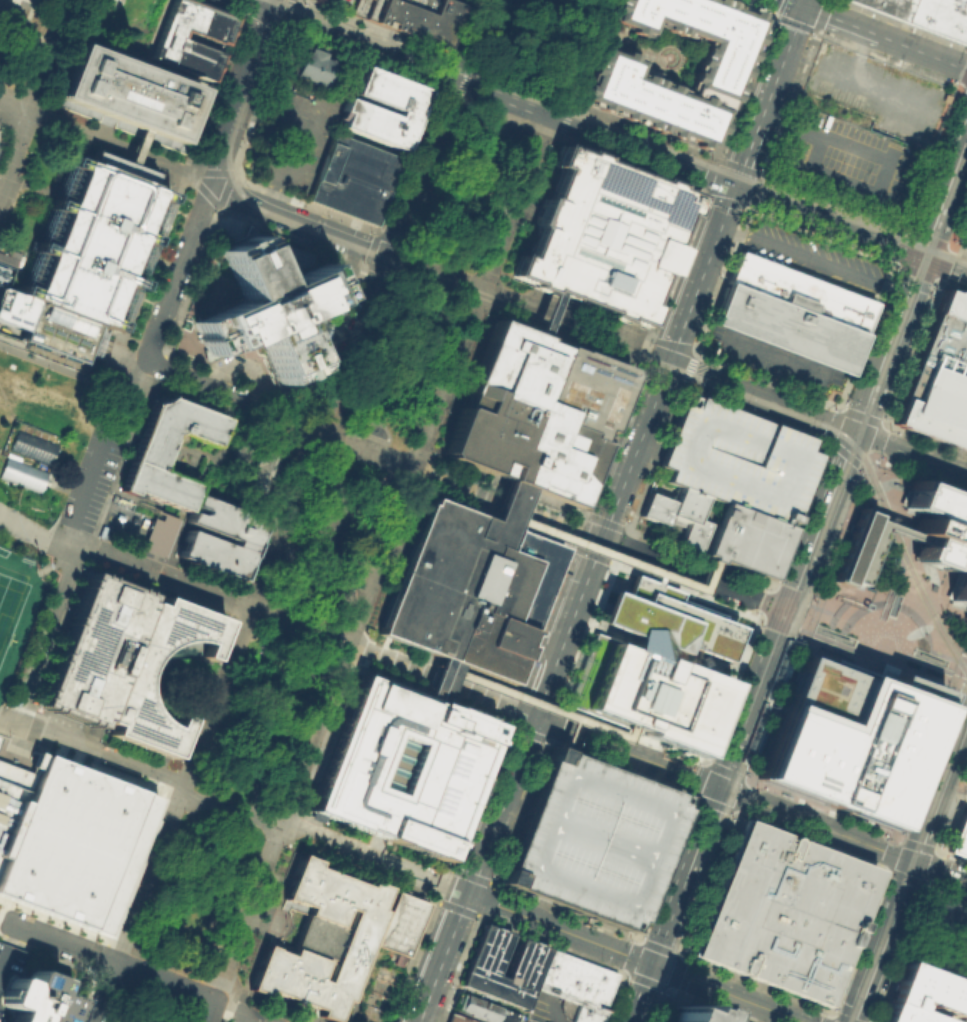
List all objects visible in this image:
road: (793, 3)
road: (804, 3)
road: (259, 4)
road: (272, 4)
road: (557, 6)
traffic signals: (803, 7)
building: (887, 7)
road: (295, 8)
traffic signals: (271, 9)
road: (530, 14)
building: (409, 16)
road: (821, 16)
building: (940, 17)
road: (902, 24)
road: (479, 32)
road: (510, 37)
road: (884, 38)
building: (171, 40)
road: (530, 41)
road: (563, 46)
road: (37, 54)
fountain: (667, 56)
road: (572, 57)
road: (886, 60)
road: (461, 62)
building: (309, 65)
road: (780, 65)
building: (610, 75)
road: (962, 77)
road: (506, 78)
road: (460, 83)
road: (867, 85)
road: (963, 89)
building: (126, 91)
railway: (544, 93)
road: (238, 96)
road: (304, 100)
building: (397, 102)
road: (787, 104)
road: (11, 107)
road: (463, 107)
road: (567, 115)
road: (458, 121)
road: (508, 125)
road: (585, 128)
railway: (618, 130)
parking lot: (293, 134)
road: (135, 145)
road: (114, 147)
road: (960, 149)
road: (14, 151)
road: (746, 155)
parking lot: (848, 156)
road: (932, 158)
road: (427, 173)
building: (352, 177)
traffic signals: (735, 186)
road: (753, 189)
road: (272, 193)
road: (833, 202)
road: (937, 211)
road: (400, 214)
road: (295, 219)
road: (959, 226)
road: (821, 233)
building: (602, 235)
building: (965, 242)
road: (949, 245)
road: (959, 248)
road: (371, 249)
parking lot: (815, 254)
building: (84, 256)
traffic signals: (920, 256)
road: (922, 257)
road: (394, 258)
road: (812, 260)
building: (6, 266)
road: (175, 269)
road: (441, 269)
road: (956, 269)
road: (914, 271)
railway: (446, 277)
road: (720, 279)
road: (484, 291)
building: (262, 299)
road: (525, 305)
road: (401, 309)
road: (544, 312)
building: (791, 312)
railway: (571, 327)
fountain: (321, 331)
road: (865, 333)
road: (409, 354)
road: (881, 359)
road: (668, 361)
road: (140, 362)
traffic signals: (668, 362)
parking lot: (765, 364)
road: (791, 365)
road: (239, 368)
road: (73, 371)
road: (685, 373)
building: (939, 377)
road: (765, 378)
road: (714, 379)
road: (231, 394)
road: (367, 400)
building: (535, 411)
road: (750, 412)
road: (806, 414)
road: (53, 417)
fountain: (395, 432)
traffic signals: (853, 432)
building: (31, 445)
road: (649, 447)
road: (368, 448)
road: (909, 454)
road: (100, 455)
building: (145, 457)
building: (737, 459)
parking lot: (737, 459)
road: (652, 460)
building: (252, 466)
road: (781, 466)
road: (865, 466)
building: (21, 473)
road: (461, 483)
road: (507, 502)
road: (338, 504)
railway: (892, 504)
road: (891, 505)
road: (500, 510)
building: (677, 513)
road: (797, 513)
road: (284, 518)
road: (553, 518)
road: (820, 519)
road: (572, 529)
building: (236, 532)
building: (940, 534)
building: (157, 535)
traffic signals: (602, 537)
building: (744, 540)
road: (620, 544)
road: (294, 545)
park: (353, 552)
road: (833, 552)
road: (383, 556)
road: (616, 556)
road: (698, 556)
building: (856, 556)
road: (912, 556)
road: (125, 560)
road: (391, 562)
road: (62, 564)
road: (639, 570)
road: (694, 571)
railway: (805, 584)
road: (908, 585)
road: (832, 587)
road: (917, 587)
road: (786, 588)
building: (468, 589)
road: (686, 592)
road: (853, 594)
road: (887, 602)
road: (826, 603)
fountain: (893, 604)
park: (10, 607)
traffic signals: (787, 607)
road: (935, 608)
road: (760, 619)
road: (551, 621)
road: (217, 624)
road: (567, 626)
road: (300, 627)
road: (888, 627)
road: (236, 630)
road: (791, 630)
road: (43, 632)
fountain: (832, 633)
road: (587, 634)
road: (213, 635)
road: (810, 639)
road: (232, 642)
railway: (964, 644)
road: (209, 646)
road: (191, 648)
road: (885, 652)
road: (228, 653)
road: (854, 654)
fountain: (929, 656)
road: (890, 661)
building: (121, 662)
building: (655, 665)
road: (146, 671)
road: (151, 672)
road: (145, 676)
road: (434, 677)
road: (435, 678)
road: (940, 680)
road: (959, 680)
road: (441, 681)
road: (145, 684)
road: (729, 689)
road: (752, 697)
road: (538, 704)
road: (336, 706)
road: (507, 707)
road: (774, 708)
road: (257, 709)
road: (272, 709)
traffic signals: (533, 717)
road: (164, 719)
road: (4, 720)
road: (179, 725)
road: (197, 732)
road: (565, 733)
road: (175, 735)
road: (631, 735)
building: (849, 737)
road: (256, 739)
road: (194, 741)
road: (172, 744)
road: (190, 751)
road: (625, 752)
road: (95, 753)
building: (401, 765)
road: (160, 766)
road: (647, 771)
railway: (753, 773)
road: (235, 777)
road: (742, 779)
road: (945, 784)
road: (183, 785)
traffic signals: (718, 788)
road: (309, 820)
road: (282, 822)
road: (817, 825)
building: (958, 836)
building: (590, 839)
parking lot: (590, 839)
road: (324, 840)
building: (64, 841)
road: (856, 850)
road: (920, 852)
road: (678, 853)
railway: (910, 862)
traffic signals: (916, 863)
road: (475, 869)
road: (671, 872)
road: (941, 872)
road: (201, 876)
road: (685, 876)
road: (397, 879)
road: (443, 885)
road: (926, 886)
traffic signals: (466, 894)
road: (946, 895)
road: (1, 904)
building: (782, 911)
road: (897, 912)
road: (949, 917)
road: (61, 923)
building: (401, 923)
parking lot: (943, 924)
flagpole: (285, 925)
road: (558, 929)
building: (321, 939)
road: (59, 941)
road: (911, 944)
road: (900, 954)
road: (47, 955)
road: (951, 958)
road: (410, 961)
road: (3, 962)
building: (482, 963)
road: (172, 964)
traffic signals: (651, 965)
road: (365, 966)
road: (165, 981)
building: (577, 983)
road: (869, 986)
road: (105, 992)
road: (193, 992)
road: (640, 993)
road: (726, 993)
building: (922, 995)
building: (36, 998)
road: (84, 998)
road: (164, 1001)
road: (269, 1004)
road: (554, 1010)
road: (210, 1011)
building: (484, 1011)
road: (169, 1012)
park: (254, 1014)
building: (693, 1014)
road: (857, 1016)
building: (457, 1017)
building: (963, 1019)
building: (733, 1020)

